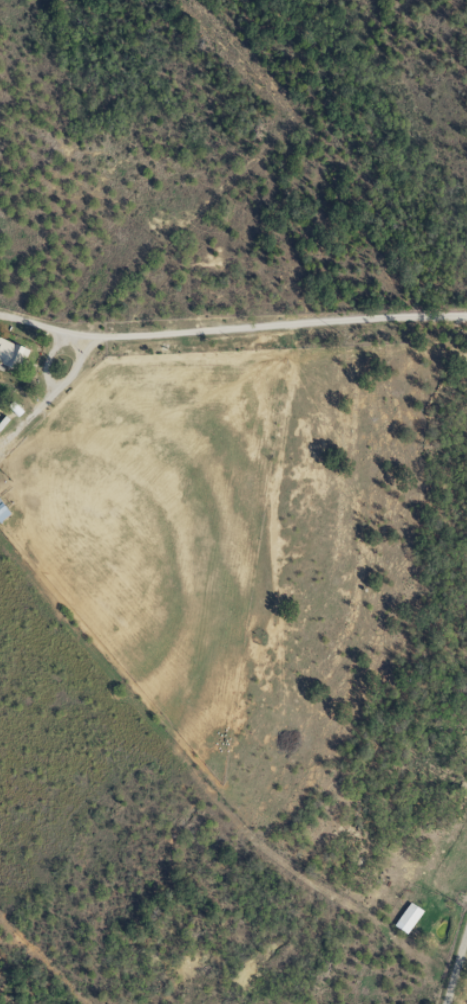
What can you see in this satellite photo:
road: (234, 335)
building: (11, 355)
building: (407, 917)
road: (446, 931)

